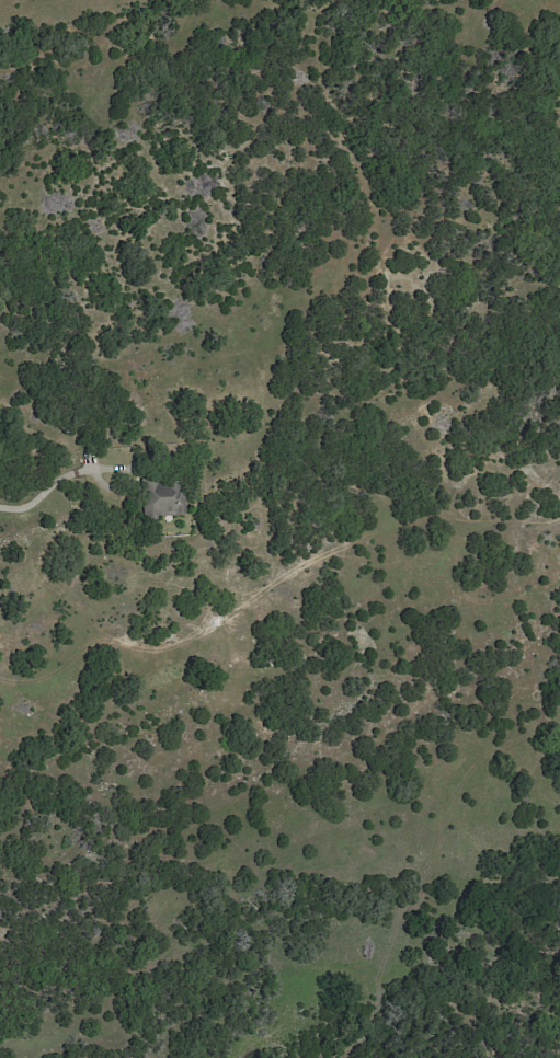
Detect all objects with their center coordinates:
road: (50, 483)
building: (163, 499)

